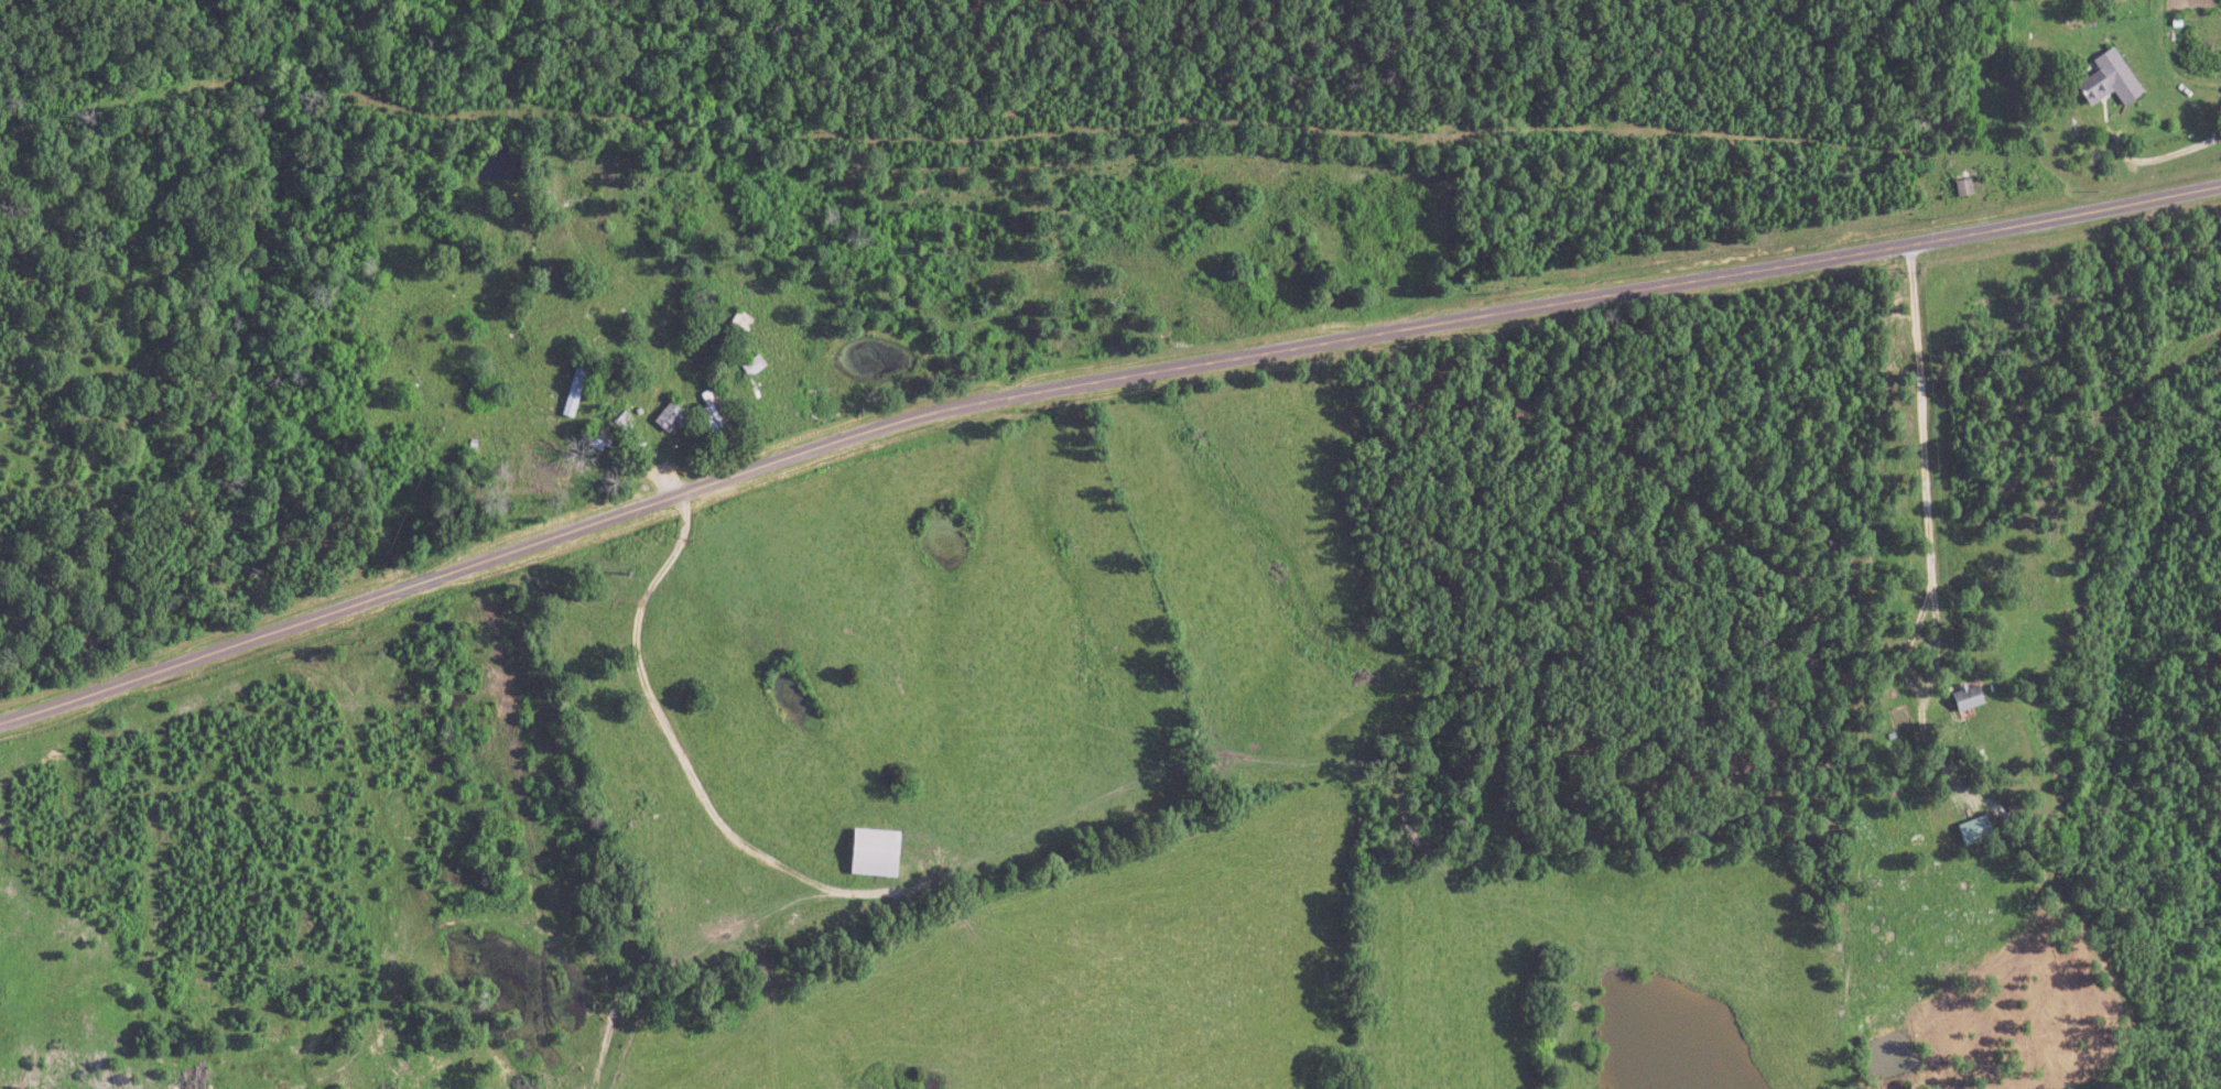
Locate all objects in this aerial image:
building: (2111, 80)
road: (1092, 383)
building: (669, 417)
building: (1967, 698)
building: (1974, 830)
building: (874, 853)

